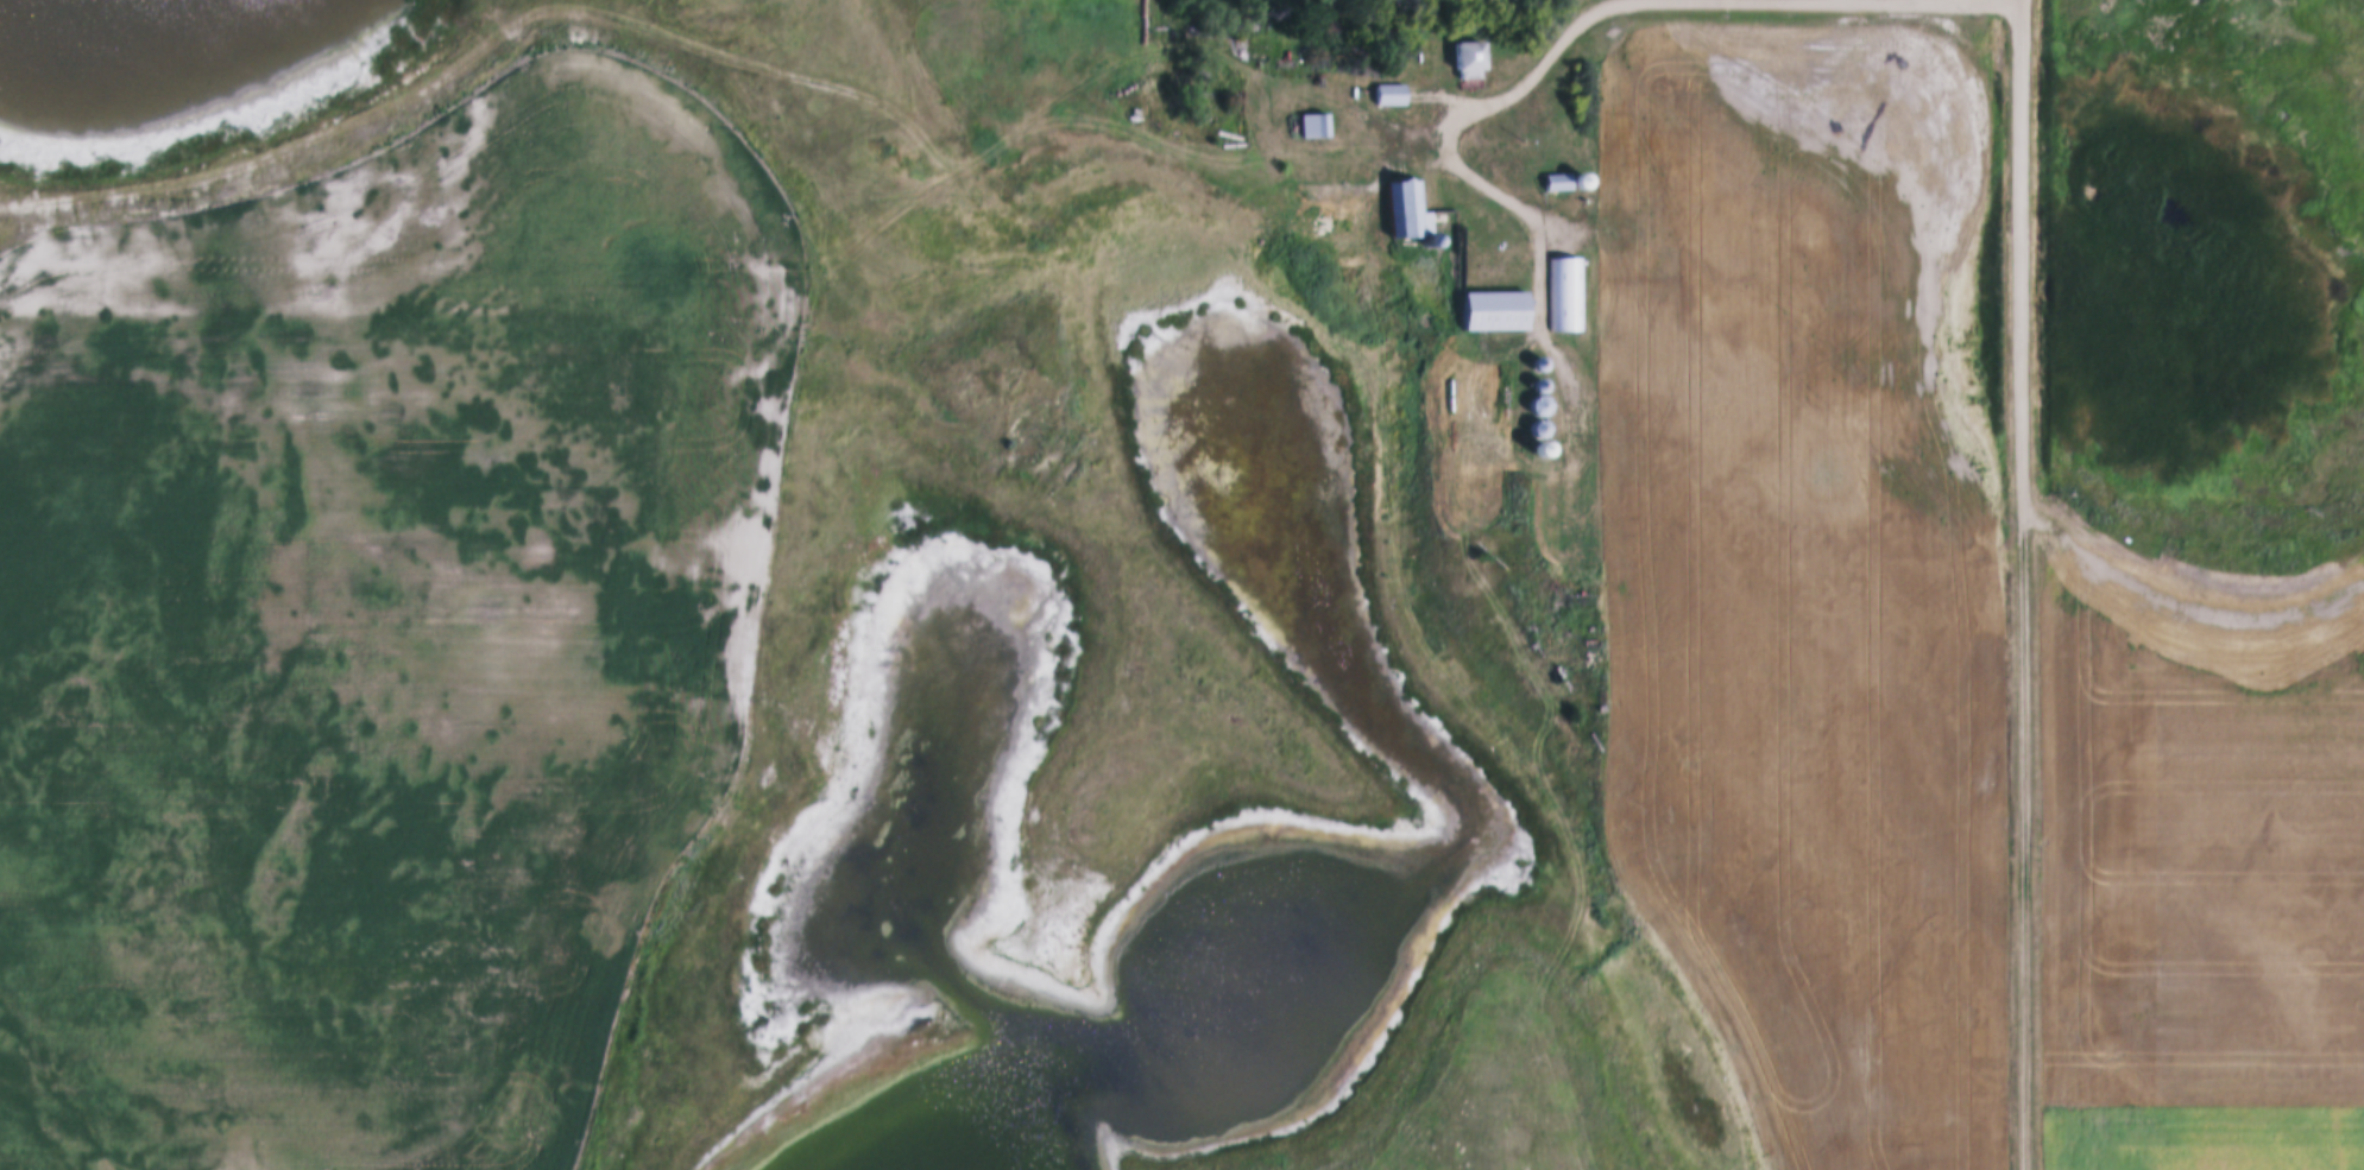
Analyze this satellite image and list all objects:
building: (1463, 61)
road: (1538, 75)
building: (1386, 97)
building: (1311, 127)
building: (1559, 183)
building: (1404, 213)
building: (1563, 295)
building: (1486, 312)
building: (1534, 423)
road: (2029, 584)

